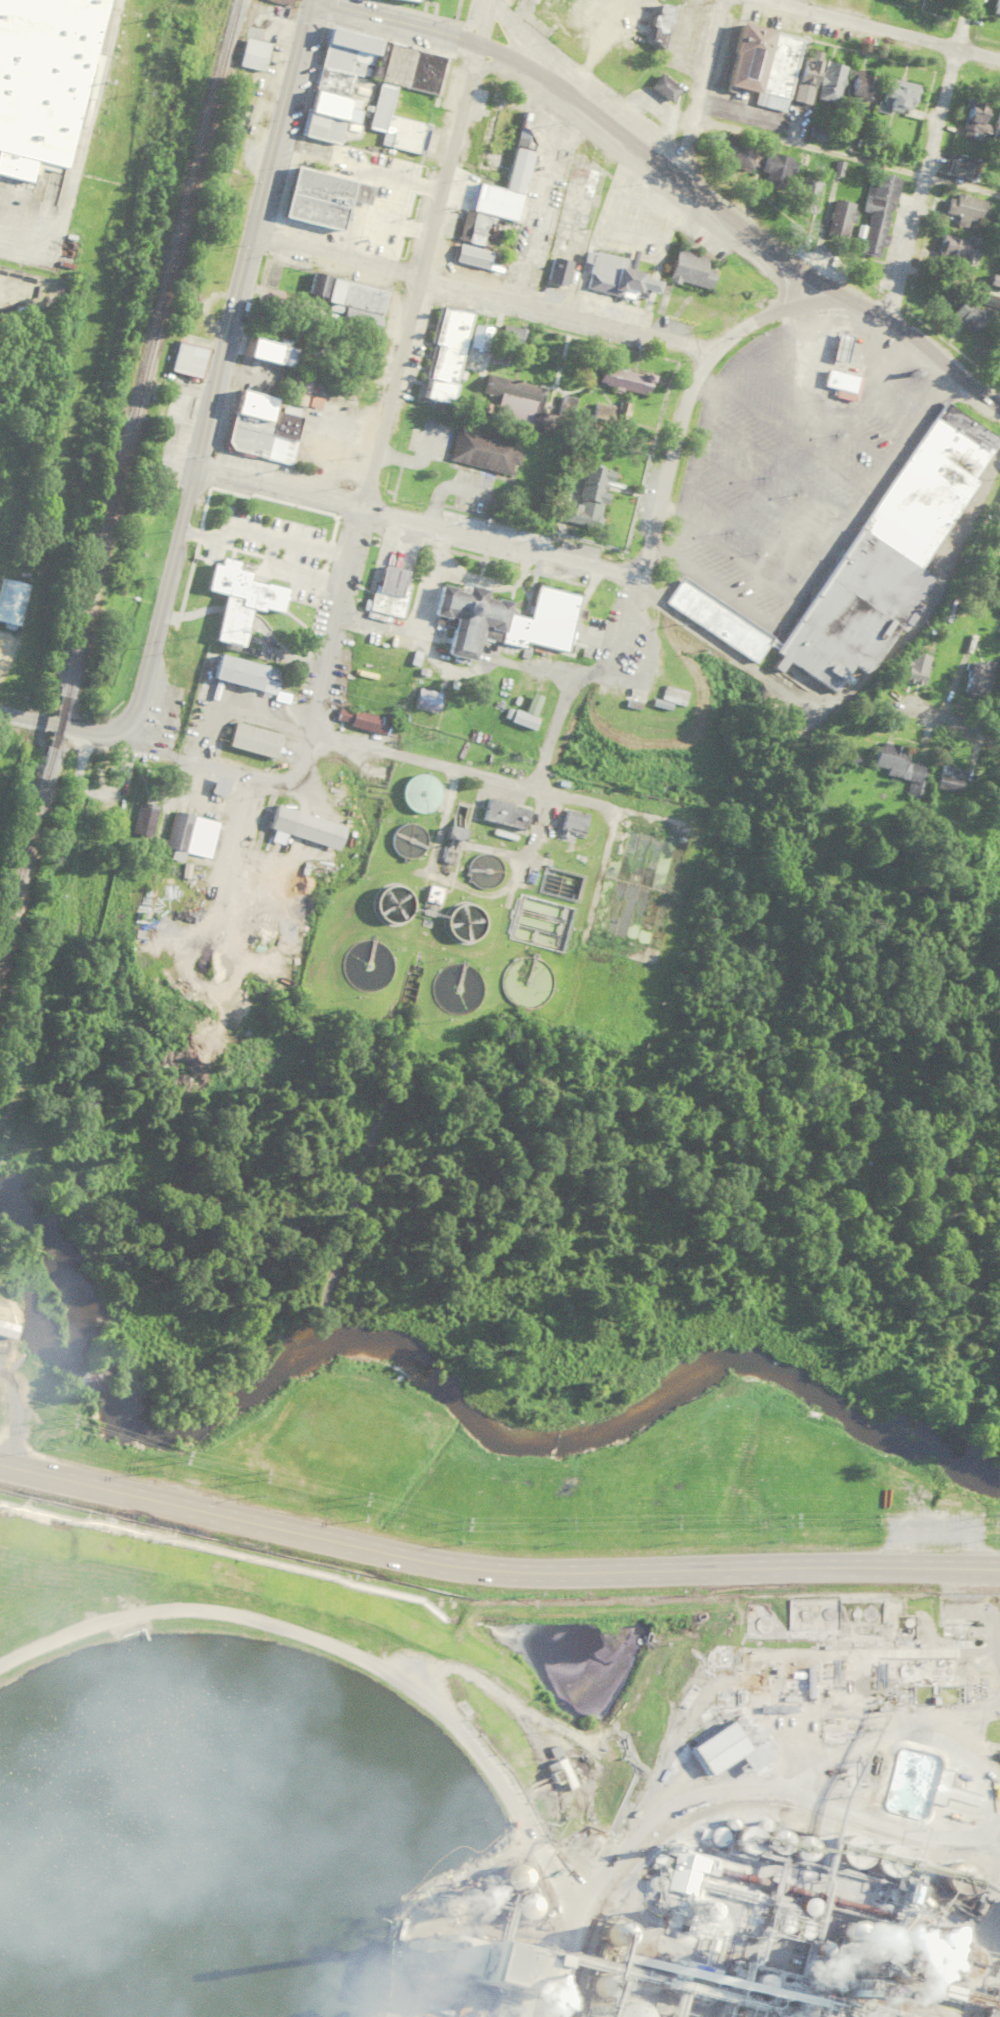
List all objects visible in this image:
road: (886, 28)
road: (437, 33)
road: (698, 88)
road: (68, 149)
road: (647, 154)
road: (845, 156)
road: (928, 157)
road: (427, 252)
road: (950, 280)
road: (544, 304)
road: (885, 326)
road: (917, 336)
railway: (150, 348)
road: (746, 351)
road: (220, 362)
road: (993, 371)
road: (249, 377)
road: (702, 385)
road: (867, 387)
road: (902, 388)
road: (815, 408)
road: (884, 416)
road: (793, 437)
road: (671, 461)
road: (414, 462)
road: (777, 467)
road: (279, 482)
road: (448, 487)
road: (764, 497)
road: (749, 528)
road: (260, 533)
road: (500, 539)
road: (735, 560)
road: (820, 563)
road: (289, 570)
road: (341, 578)
road: (477, 579)
road: (417, 634)
road: (540, 668)
road: (858, 678)
road: (610, 679)
road: (956, 718)
railway: (57, 724)
road: (59, 724)
road: (355, 741)
road: (301, 764)
road: (608, 807)
road: (441, 821)
road: (531, 837)
road: (495, 851)
railway: (25, 854)
wastewater plant: (507, 897)
road: (494, 1570)
road: (710, 1792)
railway: (726, 1807)
railway: (964, 1846)

